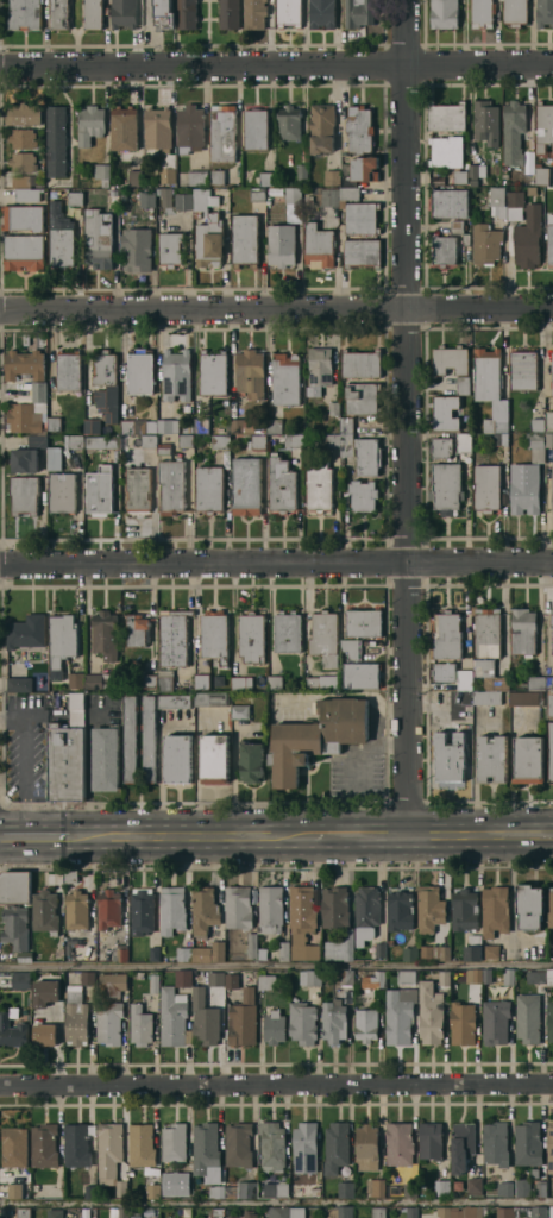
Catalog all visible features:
building: (289, 12)
building: (360, 12)
building: (516, 12)
building: (545, 12)
building: (59, 13)
building: (93, 13)
building: (125, 13)
building: (164, 13)
building: (228, 13)
building: (256, 13)
building: (323, 13)
building: (445, 13)
building: (483, 13)
building: (25, 14)
building: (188, 14)
road: (276, 64)
building: (24, 113)
building: (447, 117)
building: (486, 121)
building: (289, 123)
building: (90, 124)
building: (543, 126)
building: (322, 127)
building: (190, 128)
building: (257, 128)
building: (360, 128)
building: (125, 131)
building: (514, 131)
building: (224, 132)
building: (24, 138)
building: (162, 139)
building: (57, 140)
building: (552, 153)
building: (450, 155)
building: (24, 162)
building: (302, 170)
building: (360, 170)
building: (102, 172)
building: (477, 172)
building: (542, 174)
building: (200, 176)
building: (218, 176)
building: (134, 177)
building: (333, 177)
building: (268, 178)
building: (26, 180)
building: (532, 190)
building: (29, 194)
building: (113, 194)
building: (258, 194)
building: (294, 195)
building: (166, 196)
building: (327, 196)
building: (75, 197)
building: (147, 199)
building: (205, 199)
building: (183, 200)
building: (498, 200)
building: (450, 202)
building: (516, 205)
building: (359, 212)
building: (25, 218)
building: (458, 226)
building: (62, 236)
building: (529, 237)
building: (99, 238)
building: (245, 239)
building: (466, 239)
building: (549, 240)
building: (210, 241)
building: (282, 244)
building: (486, 244)
building: (319, 246)
building: (172, 247)
building: (137, 249)
building: (444, 250)
building: (25, 251)
building: (363, 252)
road: (276, 309)
building: (451, 359)
building: (362, 363)
building: (25, 364)
building: (523, 369)
building: (552, 369)
building: (69, 370)
building: (320, 370)
building: (552, 370)
building: (250, 371)
building: (140, 372)
building: (214, 372)
building: (177, 375)
building: (285, 378)
building: (106, 383)
building: (463, 384)
building: (552, 384)
building: (490, 388)
building: (363, 398)
building: (334, 407)
building: (30, 412)
building: (445, 412)
road: (406, 416)
building: (548, 420)
building: (55, 423)
building: (202, 425)
building: (238, 425)
building: (347, 425)
building: (538, 425)
building: (93, 426)
building: (128, 426)
building: (152, 426)
building: (168, 426)
building: (275, 426)
building: (188, 428)
building: (501, 439)
building: (549, 439)
building: (149, 440)
building: (186, 440)
building: (294, 440)
building: (333, 440)
building: (38, 441)
building: (76, 441)
building: (221, 441)
building: (258, 441)
building: (464, 441)
building: (102, 442)
building: (347, 444)
building: (441, 447)
building: (164, 448)
building: (367, 456)
building: (25, 459)
building: (528, 477)
building: (552, 477)
building: (171, 485)
building: (246, 485)
building: (282, 485)
building: (447, 485)
building: (320, 486)
building: (488, 486)
building: (138, 489)
building: (209, 489)
building: (100, 490)
building: (63, 492)
building: (25, 494)
building: (363, 494)
road: (276, 561)
building: (552, 616)
building: (364, 622)
building: (138, 629)
building: (27, 630)
building: (288, 632)
building: (488, 632)
building: (524, 632)
building: (106, 634)
building: (215, 635)
building: (447, 635)
building: (552, 635)
building: (174, 636)
building: (252, 636)
building: (63, 638)
building: (326, 638)
building: (552, 642)
building: (353, 648)
building: (444, 672)
building: (362, 674)
building: (491, 674)
building: (151, 676)
building: (76, 679)
building: (165, 679)
building: (465, 679)
building: (98, 680)
building: (202, 680)
building: (276, 682)
building: (321, 682)
building: (536, 682)
building: (549, 682)
building: (243, 683)
building: (19, 684)
building: (477, 688)
building: (488, 696)
building: (213, 698)
building: (527, 698)
building: (175, 701)
building: (551, 705)
building: (240, 711)
building: (318, 736)
building: (149, 737)
building: (131, 739)
road: (375, 742)
road: (390, 746)
building: (551, 751)
building: (178, 756)
building: (106, 758)
building: (215, 758)
building: (451, 758)
building: (492, 759)
building: (529, 759)
building: (252, 760)
building: (68, 762)
road: (25, 766)
road: (188, 834)
road: (352, 834)
road: (479, 834)
road: (39, 835)
road: (276, 864)
building: (71, 877)
building: (15, 887)
building: (532, 905)
building: (551, 906)
building: (239, 908)
building: (335, 908)
building: (109, 909)
building: (172, 909)
building: (270, 909)
building: (431, 909)
building: (77, 910)
building: (143, 910)
building: (205, 910)
building: (401, 910)
building: (465, 910)
building: (496, 910)
building: (46, 911)
building: (367, 912)
building: (302, 922)
building: (17, 927)
building: (251, 944)
building: (341, 947)
building: (379, 948)
building: (475, 948)
building: (219, 950)
building: (284, 950)
building: (491, 950)
building: (410, 952)
building: (86, 953)
building: (120, 953)
building: (155, 953)
building: (202, 953)
building: (263, 953)
building: (442, 953)
building: (186, 954)
building: (25, 956)
road: (276, 967)
building: (140, 973)
building: (475, 975)
building: (488, 975)
building: (88, 977)
building: (347, 977)
building: (509, 977)
building: (541, 977)
building: (551, 977)
building: (184, 978)
building: (216, 978)
building: (310, 978)
building: (379, 978)
building: (445, 978)
building: (407, 979)
building: (21, 980)
building: (156, 980)
building: (232, 980)
building: (268, 981)
building: (113, 984)
building: (46, 992)
building: (432, 1013)
building: (400, 1015)
building: (76, 1016)
building: (175, 1017)
building: (206, 1018)
building: (244, 1018)
building: (529, 1018)
building: (334, 1021)
building: (496, 1021)
building: (551, 1021)
building: (109, 1022)
building: (303, 1022)
building: (463, 1023)
building: (366, 1024)
building: (143, 1026)
building: (275, 1026)
building: (13, 1029)
building: (46, 1034)
road: (276, 1086)
building: (432, 1139)
building: (175, 1142)
building: (401, 1143)
building: (497, 1143)
building: (529, 1143)
building: (78, 1144)
building: (142, 1144)
building: (239, 1144)
building: (15, 1145)
building: (45, 1145)
building: (272, 1145)
building: (367, 1145)
building: (463, 1145)
building: (206, 1147)
building: (306, 1147)
building: (337, 1147)
building: (551, 1147)
building: (111, 1149)
building: (535, 1172)
building: (476, 1186)
building: (122, 1187)
building: (376, 1187)
building: (442, 1187)
building: (523, 1187)
building: (541, 1187)
building: (277, 1188)
building: (505, 1188)
building: (19, 1189)
building: (187, 1189)
building: (243, 1189)
building: (346, 1189)
building: (411, 1189)
building: (90, 1191)
building: (153, 1191)
building: (216, 1191)
road: (276, 1203)
building: (485, 1210)
building: (124, 1212)
building: (219, 1212)
building: (278, 1212)
building: (297, 1212)
building: (339, 1212)
building: (379, 1212)
building: (413, 1212)
building: (445, 1212)
building: (467, 1212)
building: (505, 1212)
building: (539, 1212)
building: (552, 1212)
building: (24, 1213)
building: (56, 1213)
building: (250, 1213)
building: (137, 1214)
building: (233, 1217)

